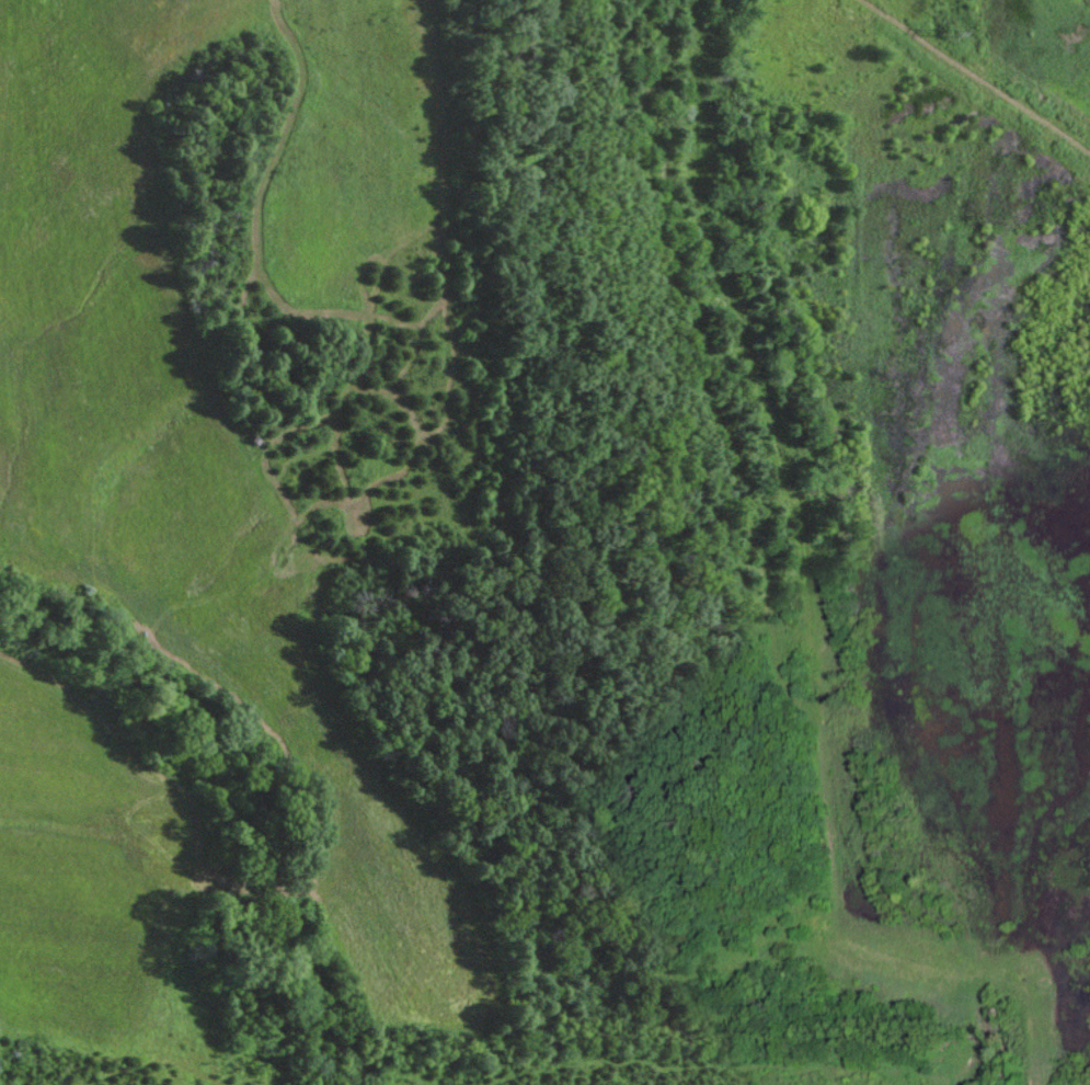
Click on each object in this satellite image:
power tower: (952, 35)

